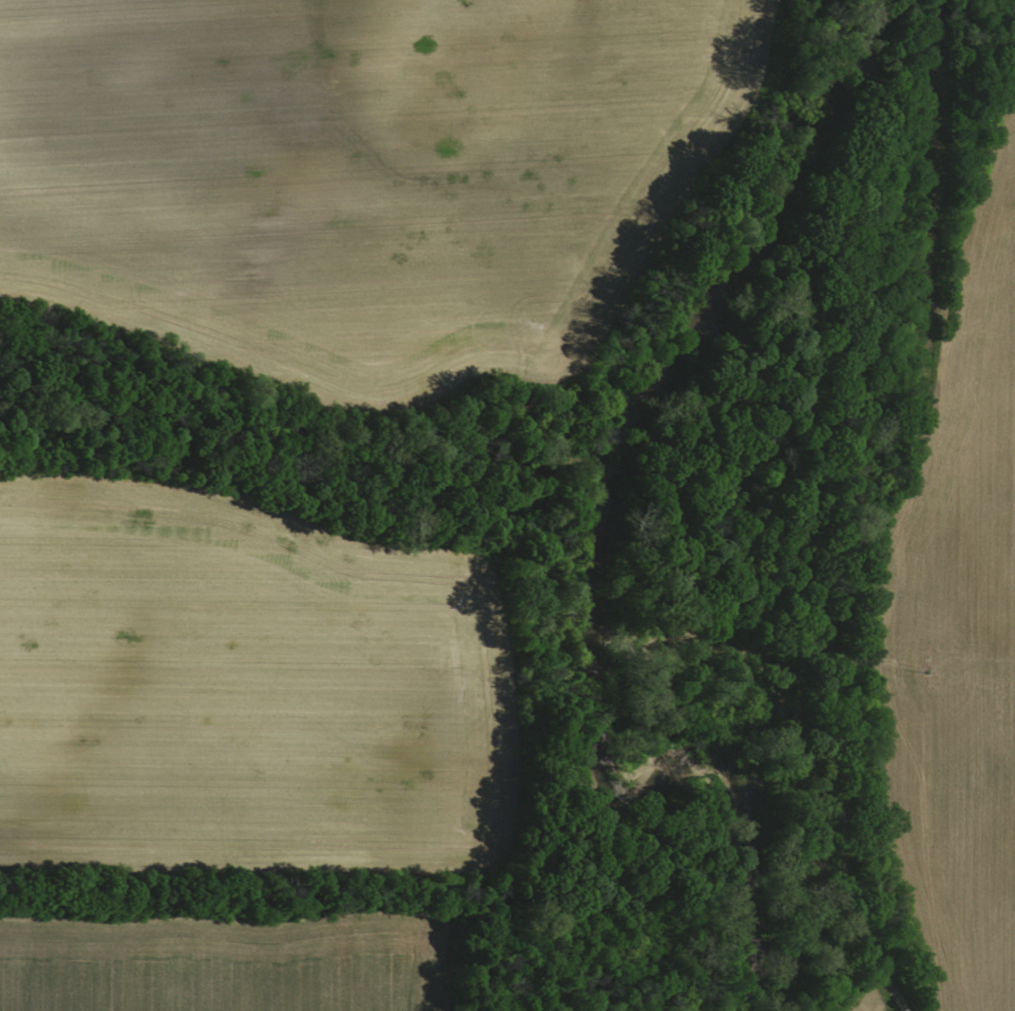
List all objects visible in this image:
road: (844, 843)

